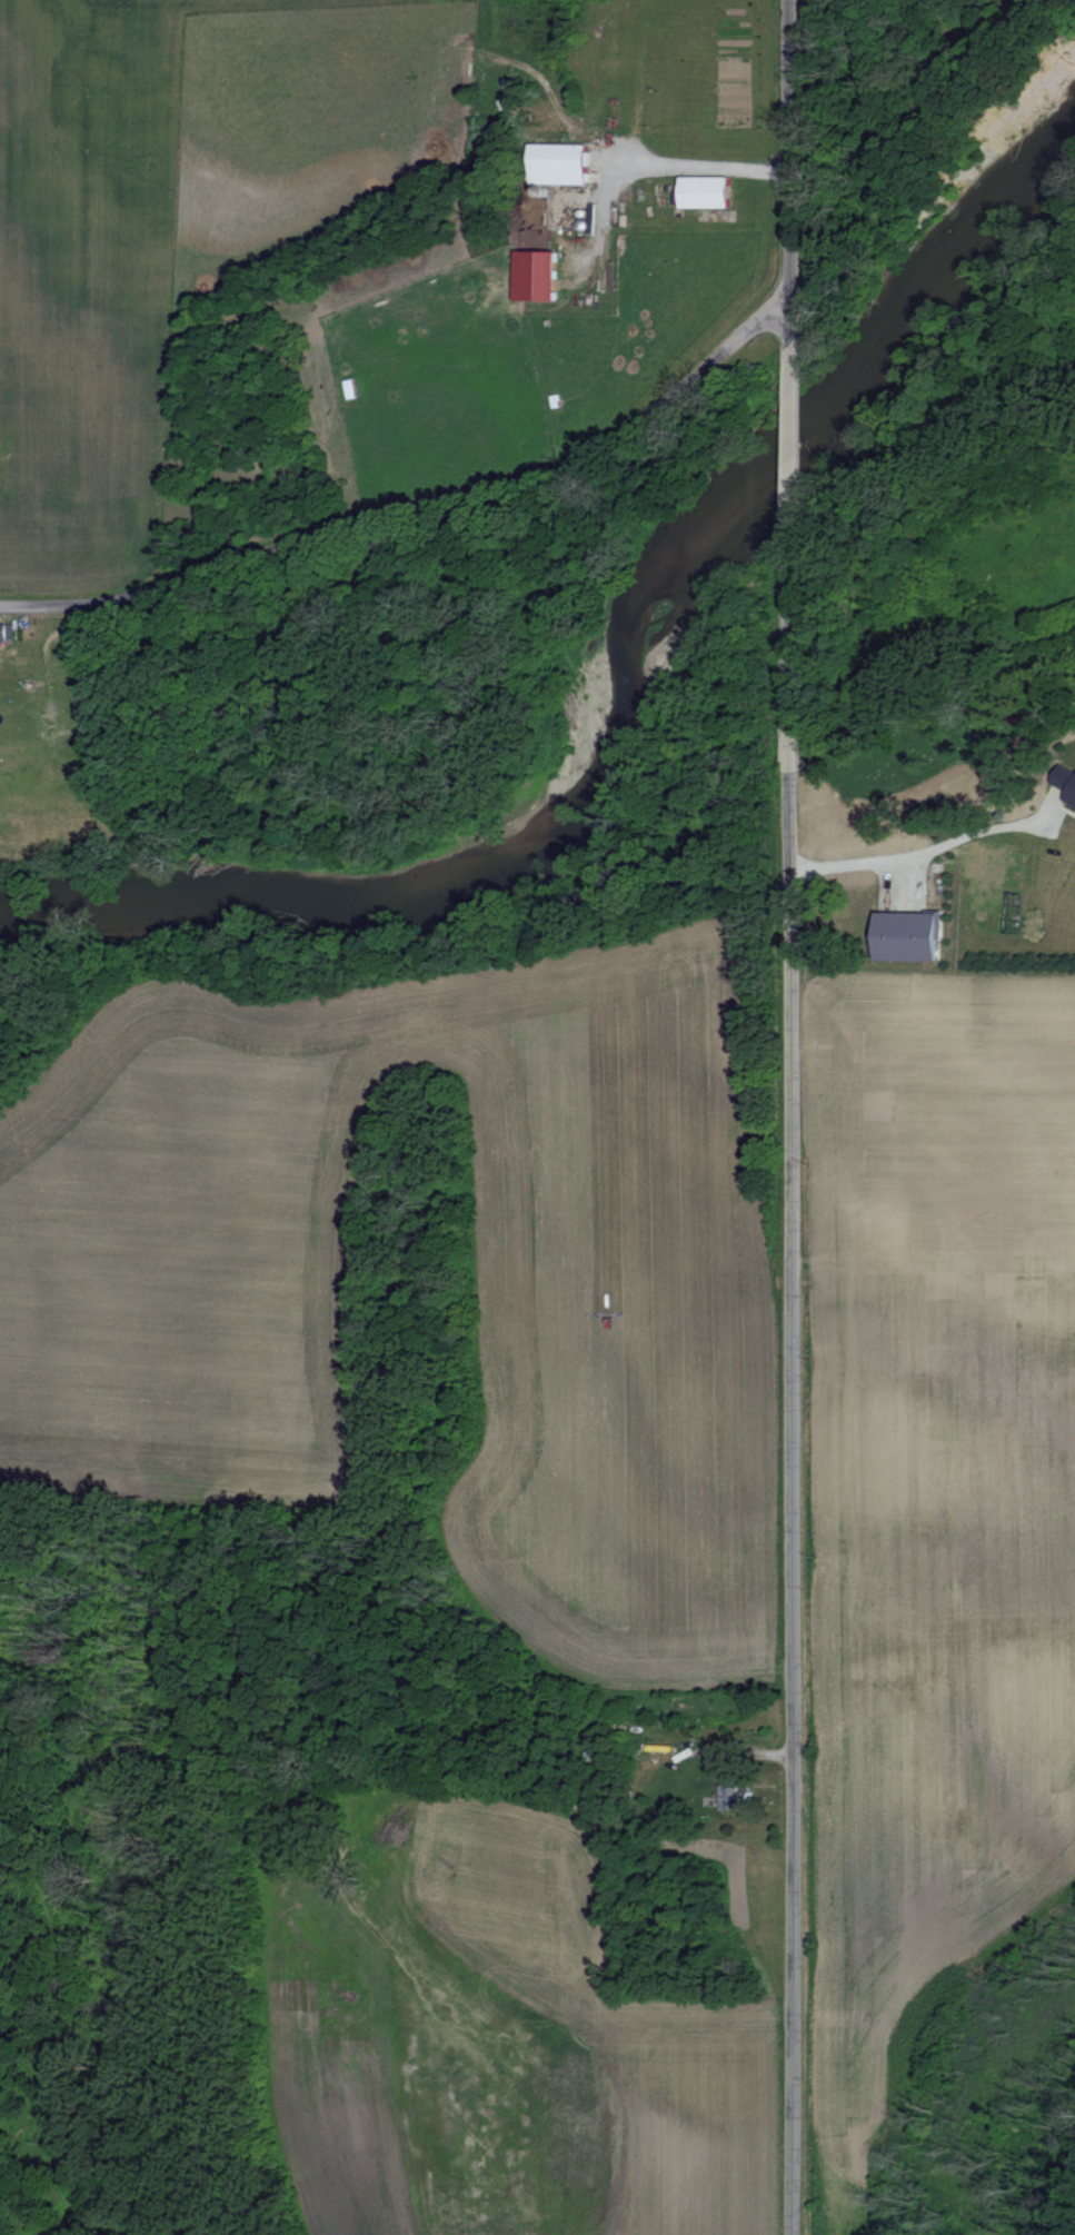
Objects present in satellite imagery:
building: (556, 163)
road: (695, 165)
road: (779, 172)
building: (703, 192)
building: (531, 276)
road: (785, 457)
road: (409, 504)
building: (6, 633)
river: (626, 698)
building: (1065, 782)
road: (932, 853)
building: (904, 936)
road: (792, 1401)
building: (733, 1796)

